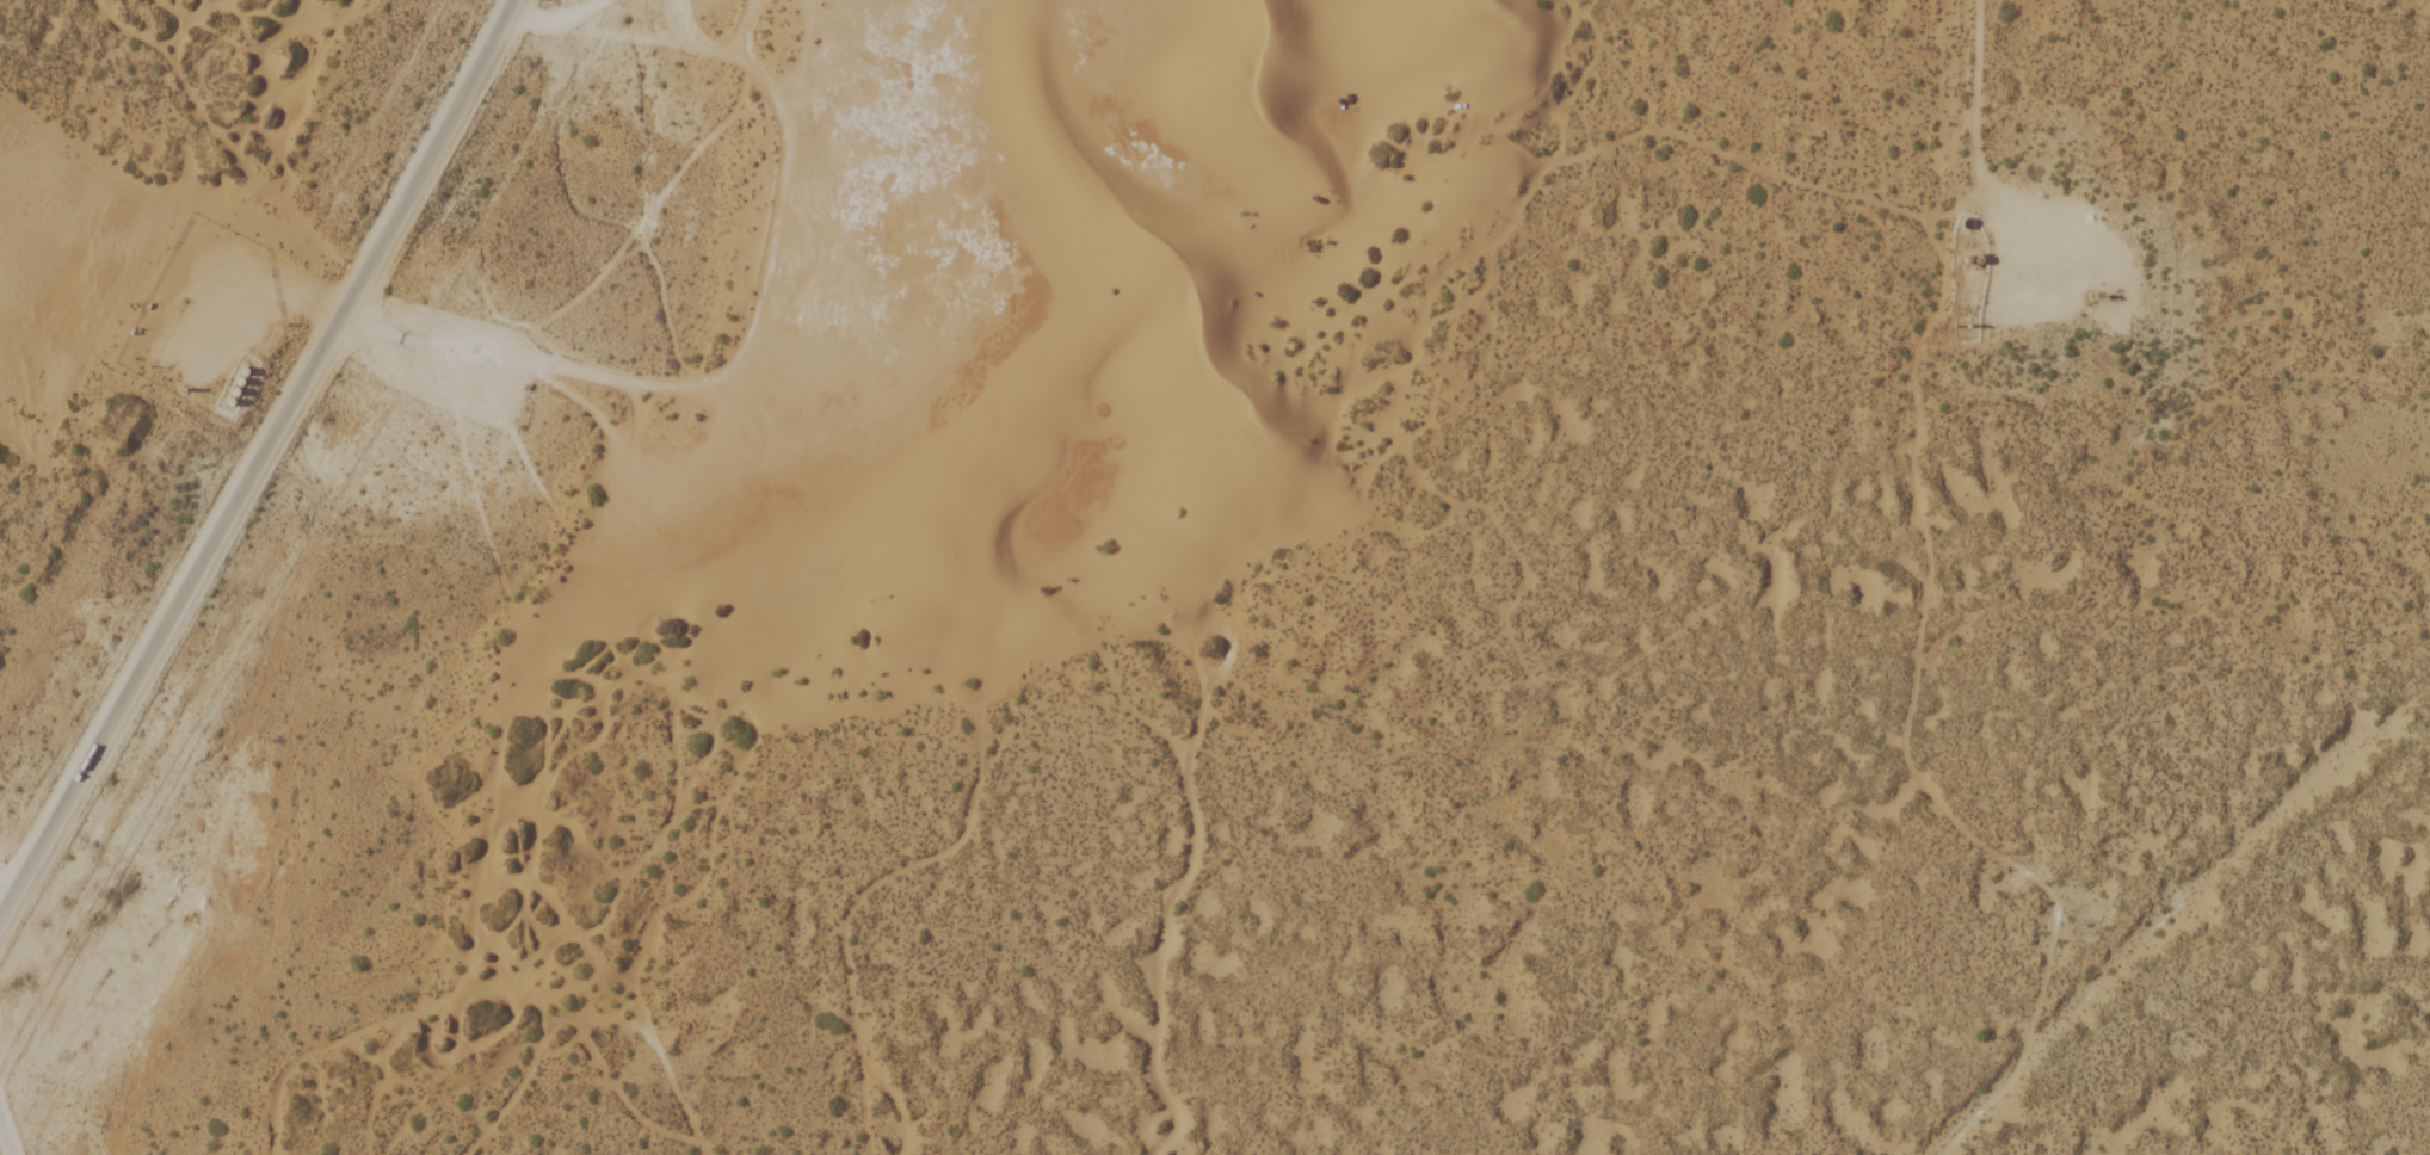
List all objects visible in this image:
road: (1991, 101)
road: (258, 458)
road: (12, 1111)

